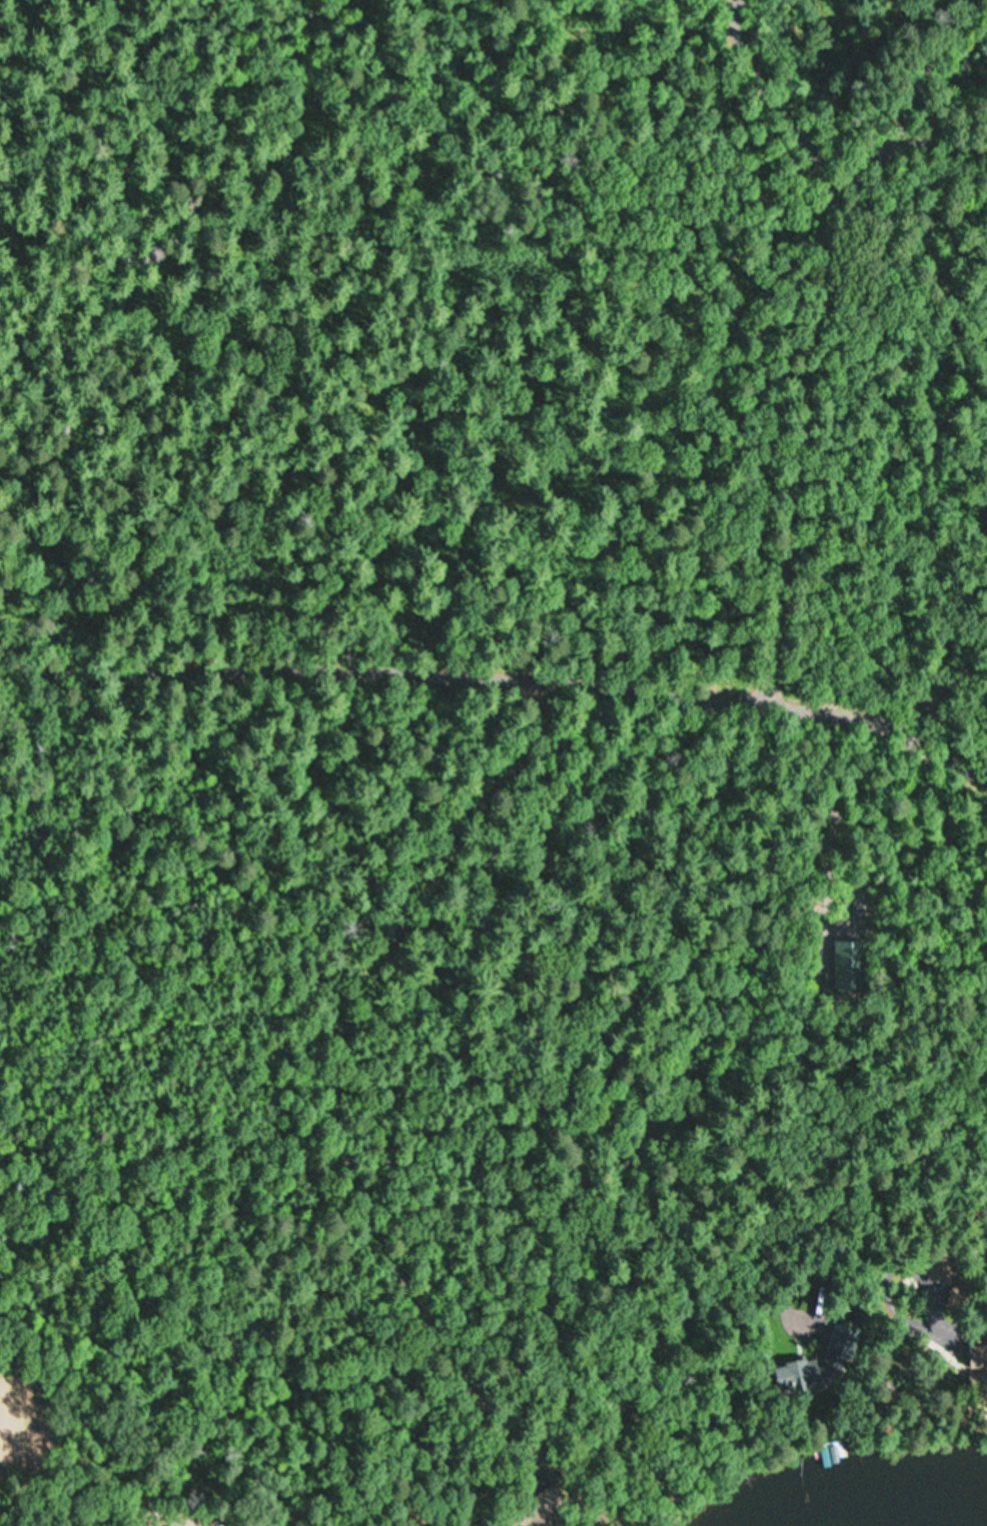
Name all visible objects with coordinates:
road: (908, 225)
road: (808, 358)
road: (505, 679)
road: (932, 1070)
road: (335, 1092)
building: (933, 1345)
building: (977, 1363)
building: (790, 1376)
building: (529, 1514)

